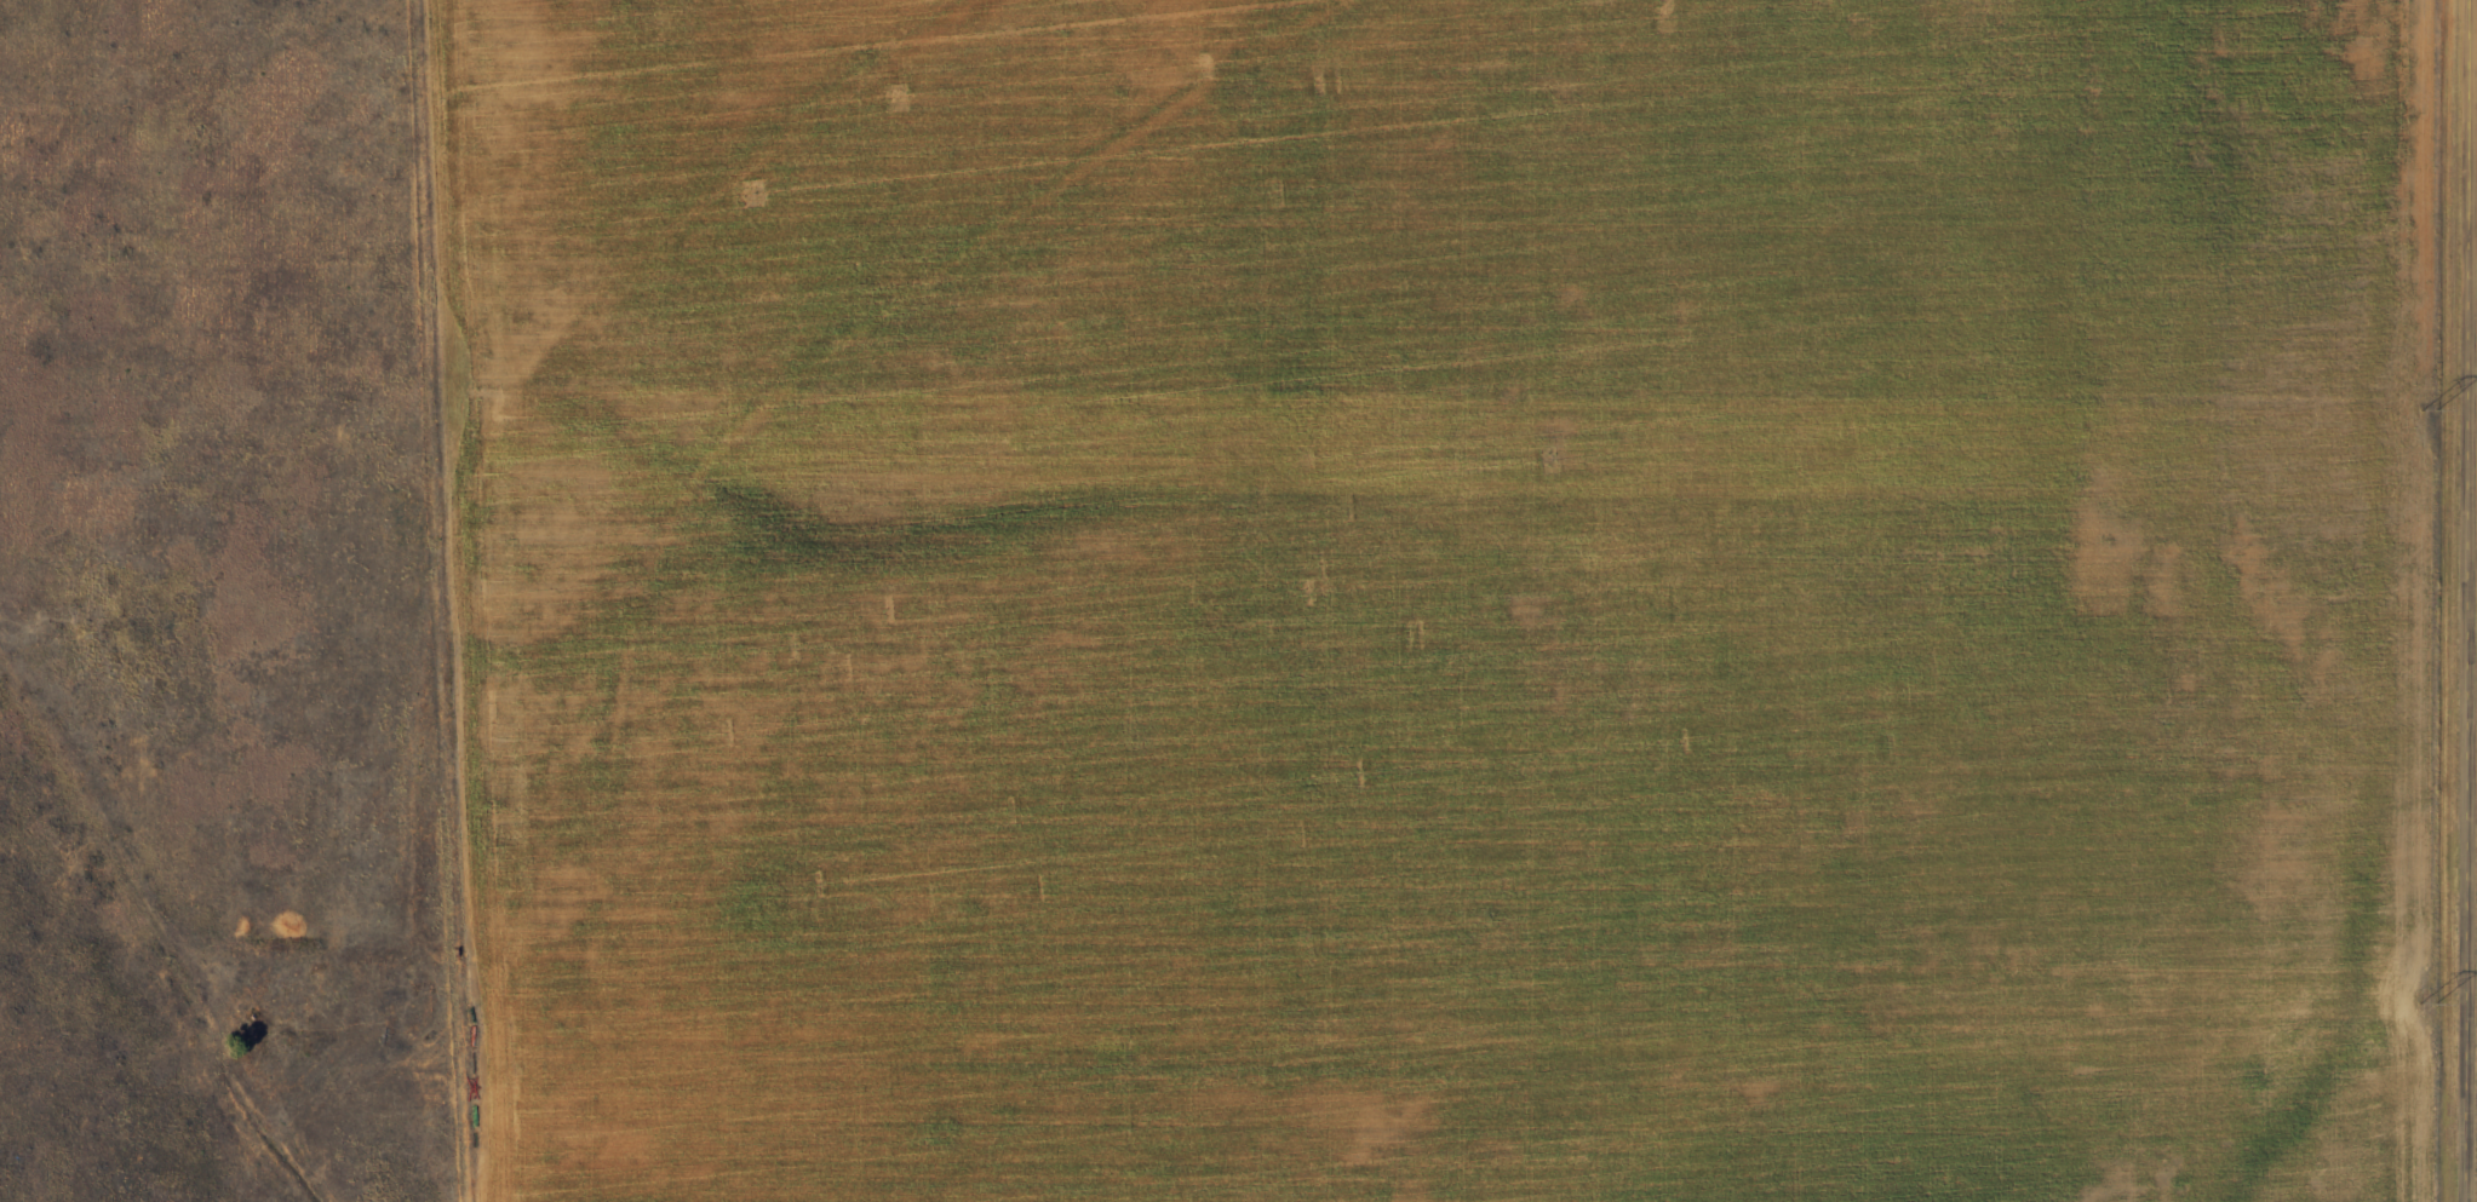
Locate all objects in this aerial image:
power tower: (2425, 412)
road: (2461, 600)
power tower: (2422, 1002)

